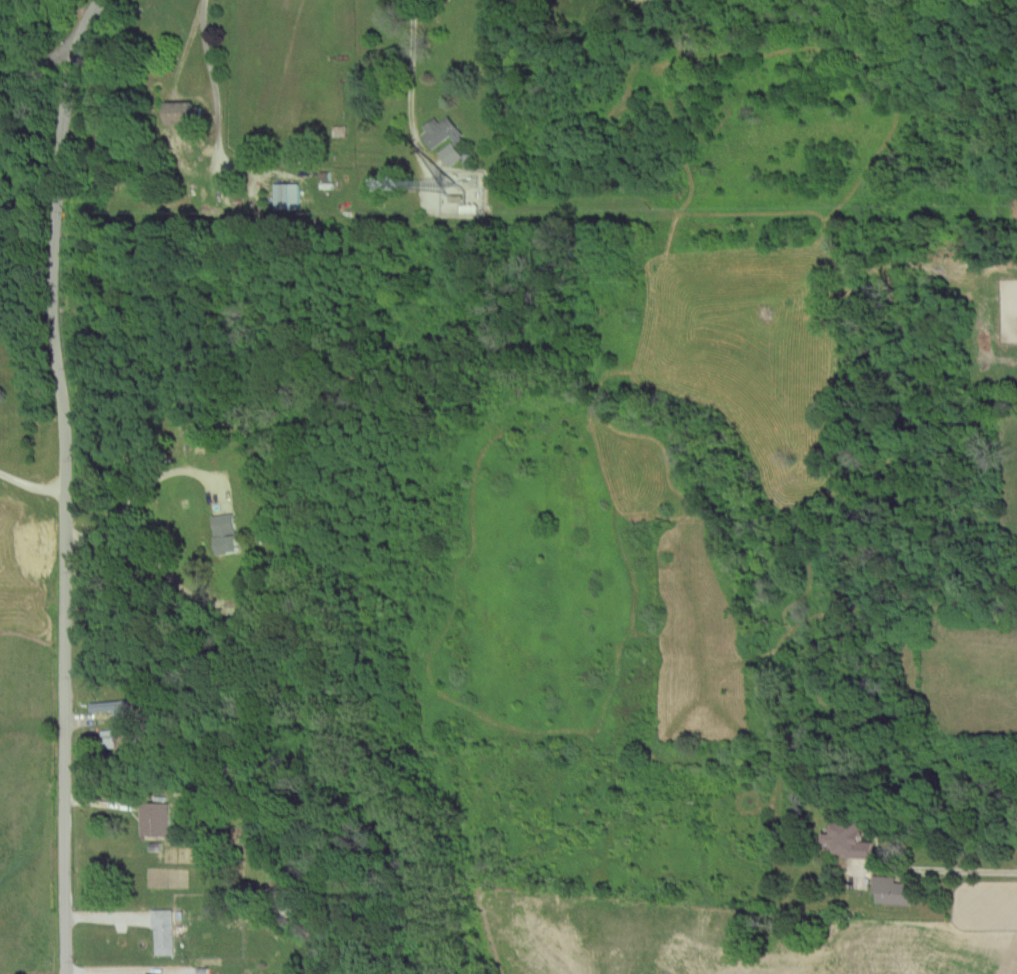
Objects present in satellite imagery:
road: (177, 51)
road: (38, 76)
road: (408, 80)
building: (178, 110)
road: (208, 119)
building: (441, 130)
building: (449, 152)
building: (285, 194)
road: (64, 483)
road: (31, 486)
road: (139, 494)
building: (223, 532)
building: (110, 706)
building: (107, 737)
building: (153, 818)
building: (847, 838)
road: (939, 868)
building: (890, 889)
building: (162, 931)

